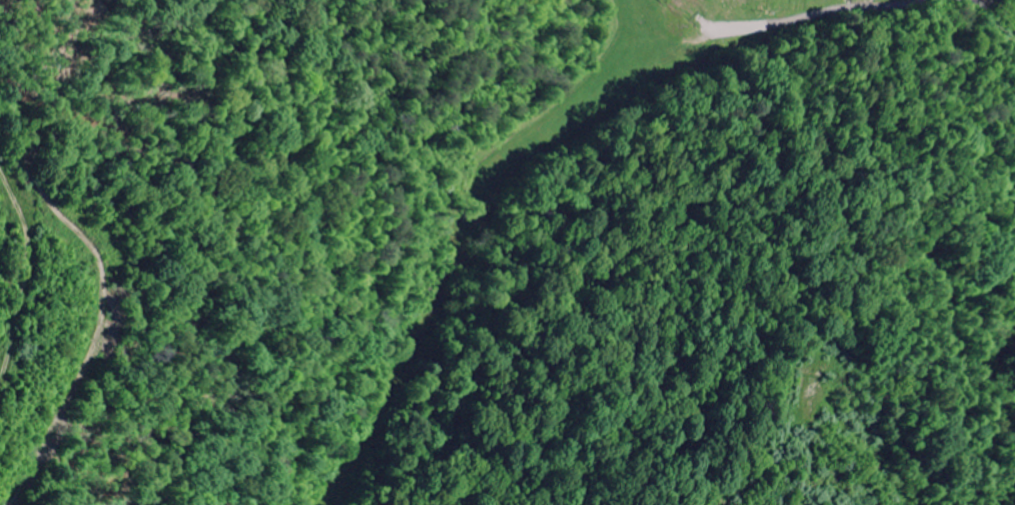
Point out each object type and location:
building: (876, 0)
road: (855, 6)
road: (990, 14)
road: (12, 194)

